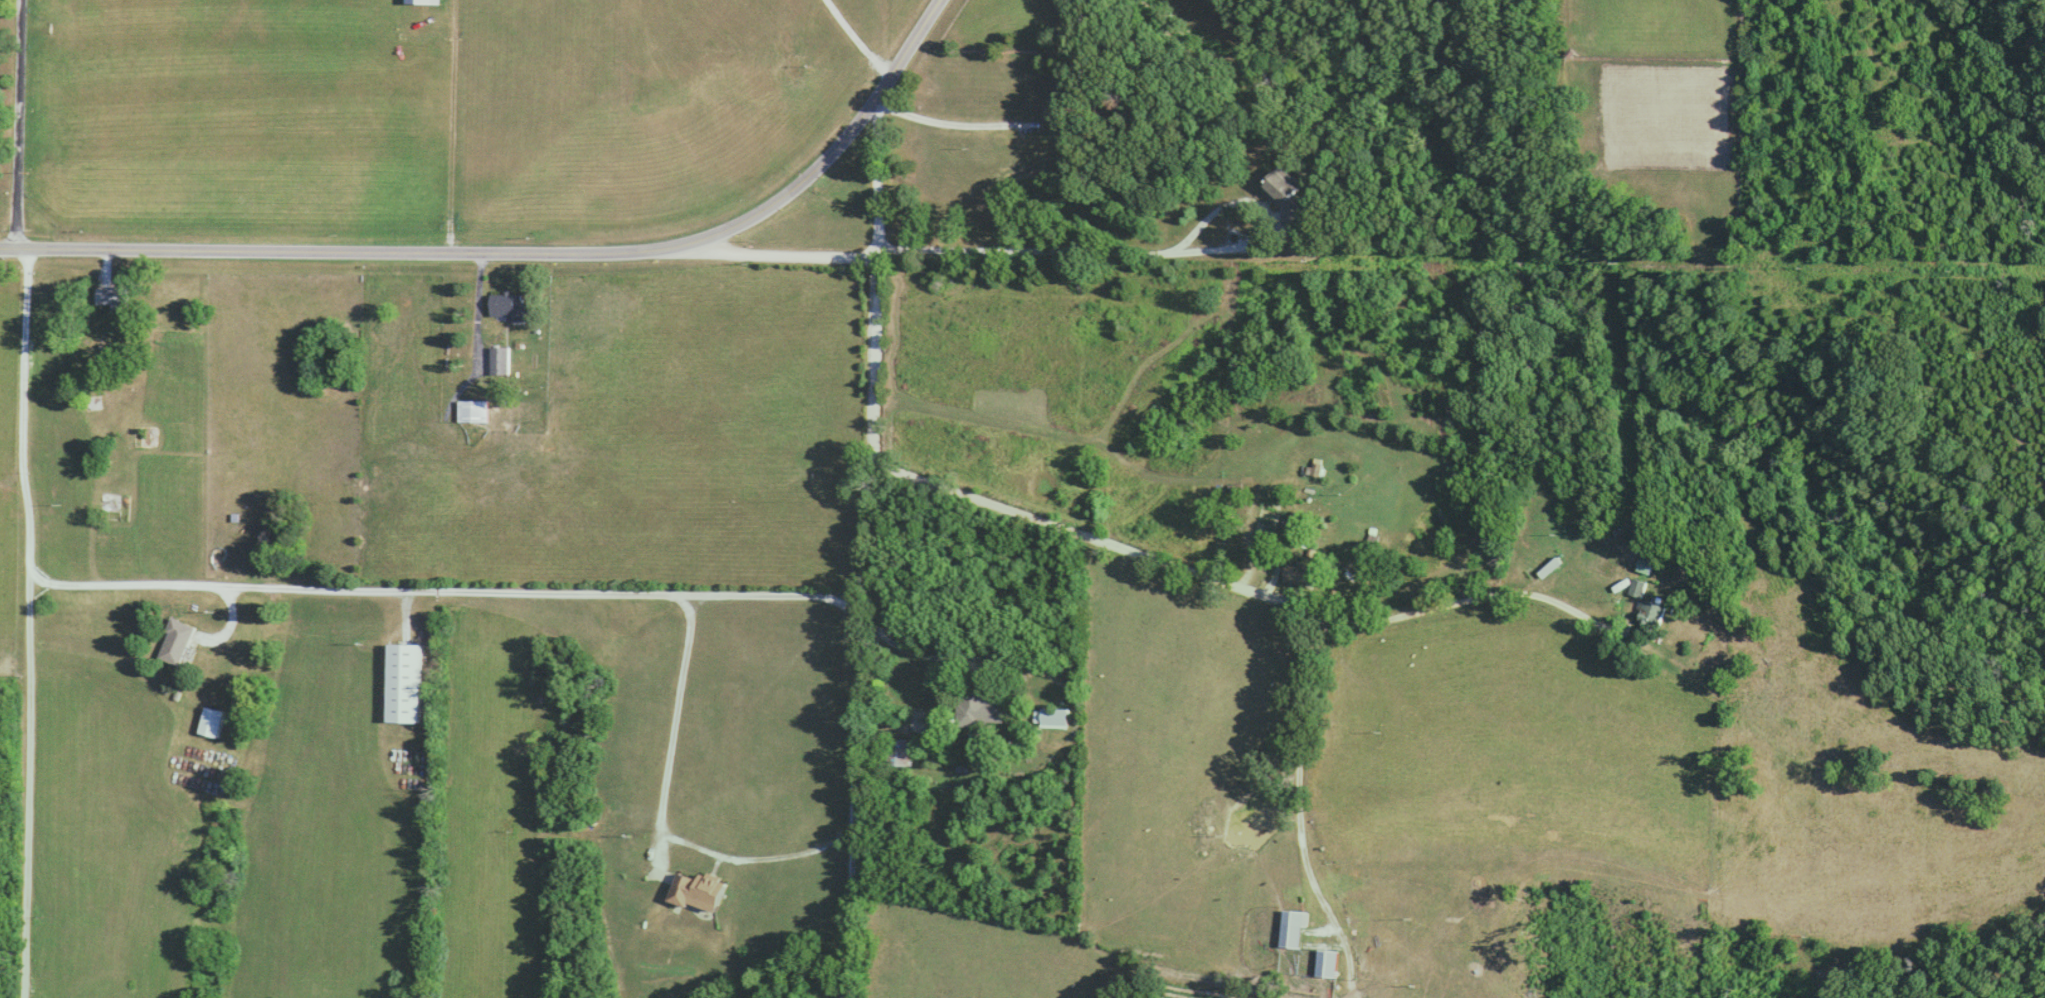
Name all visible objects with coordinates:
road: (22, 127)
road: (979, 134)
road: (881, 181)
building: (1280, 187)
road: (1144, 253)
road: (528, 254)
road: (792, 255)
building: (114, 296)
building: (510, 306)
road: (481, 318)
building: (501, 360)
building: (476, 411)
road: (880, 506)
building: (1548, 569)
building: (1635, 590)
road: (636, 597)
road: (1264, 597)
road: (31, 626)
building: (179, 642)
building: (405, 683)
building: (977, 714)
building: (1052, 718)
building: (214, 722)
road: (959, 744)
building: (896, 754)
building: (696, 893)
building: (1291, 929)
building: (1325, 965)

